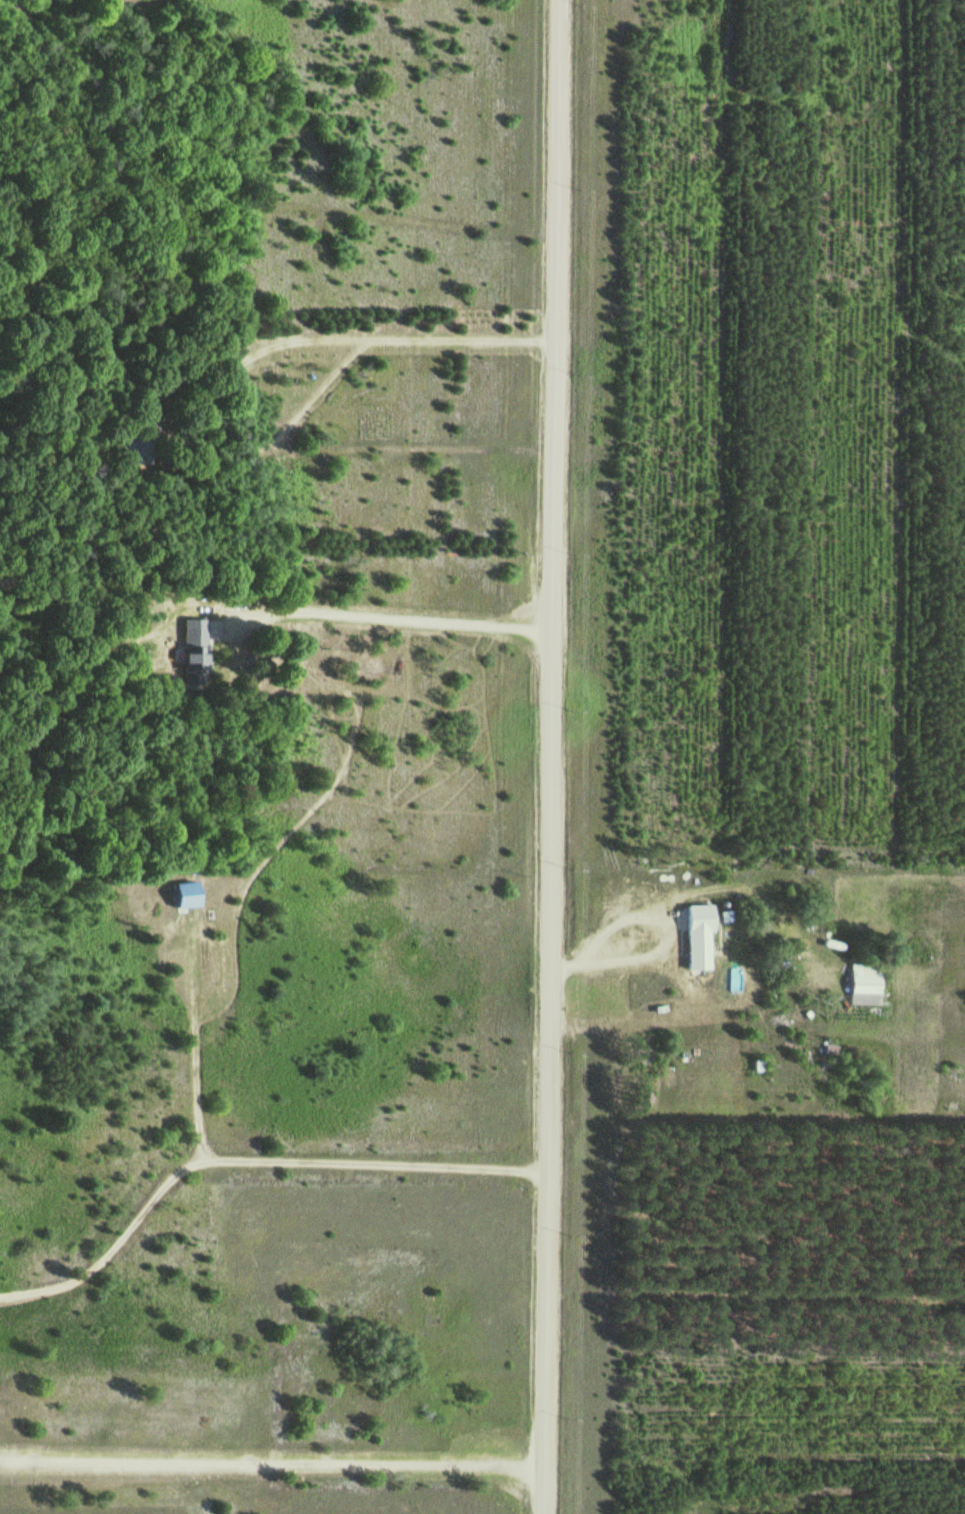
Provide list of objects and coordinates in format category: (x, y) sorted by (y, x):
building: (147, 415)
building: (193, 657)
road: (553, 757)
building: (181, 893)
building: (694, 935)
building: (864, 977)
road: (249, 1158)

